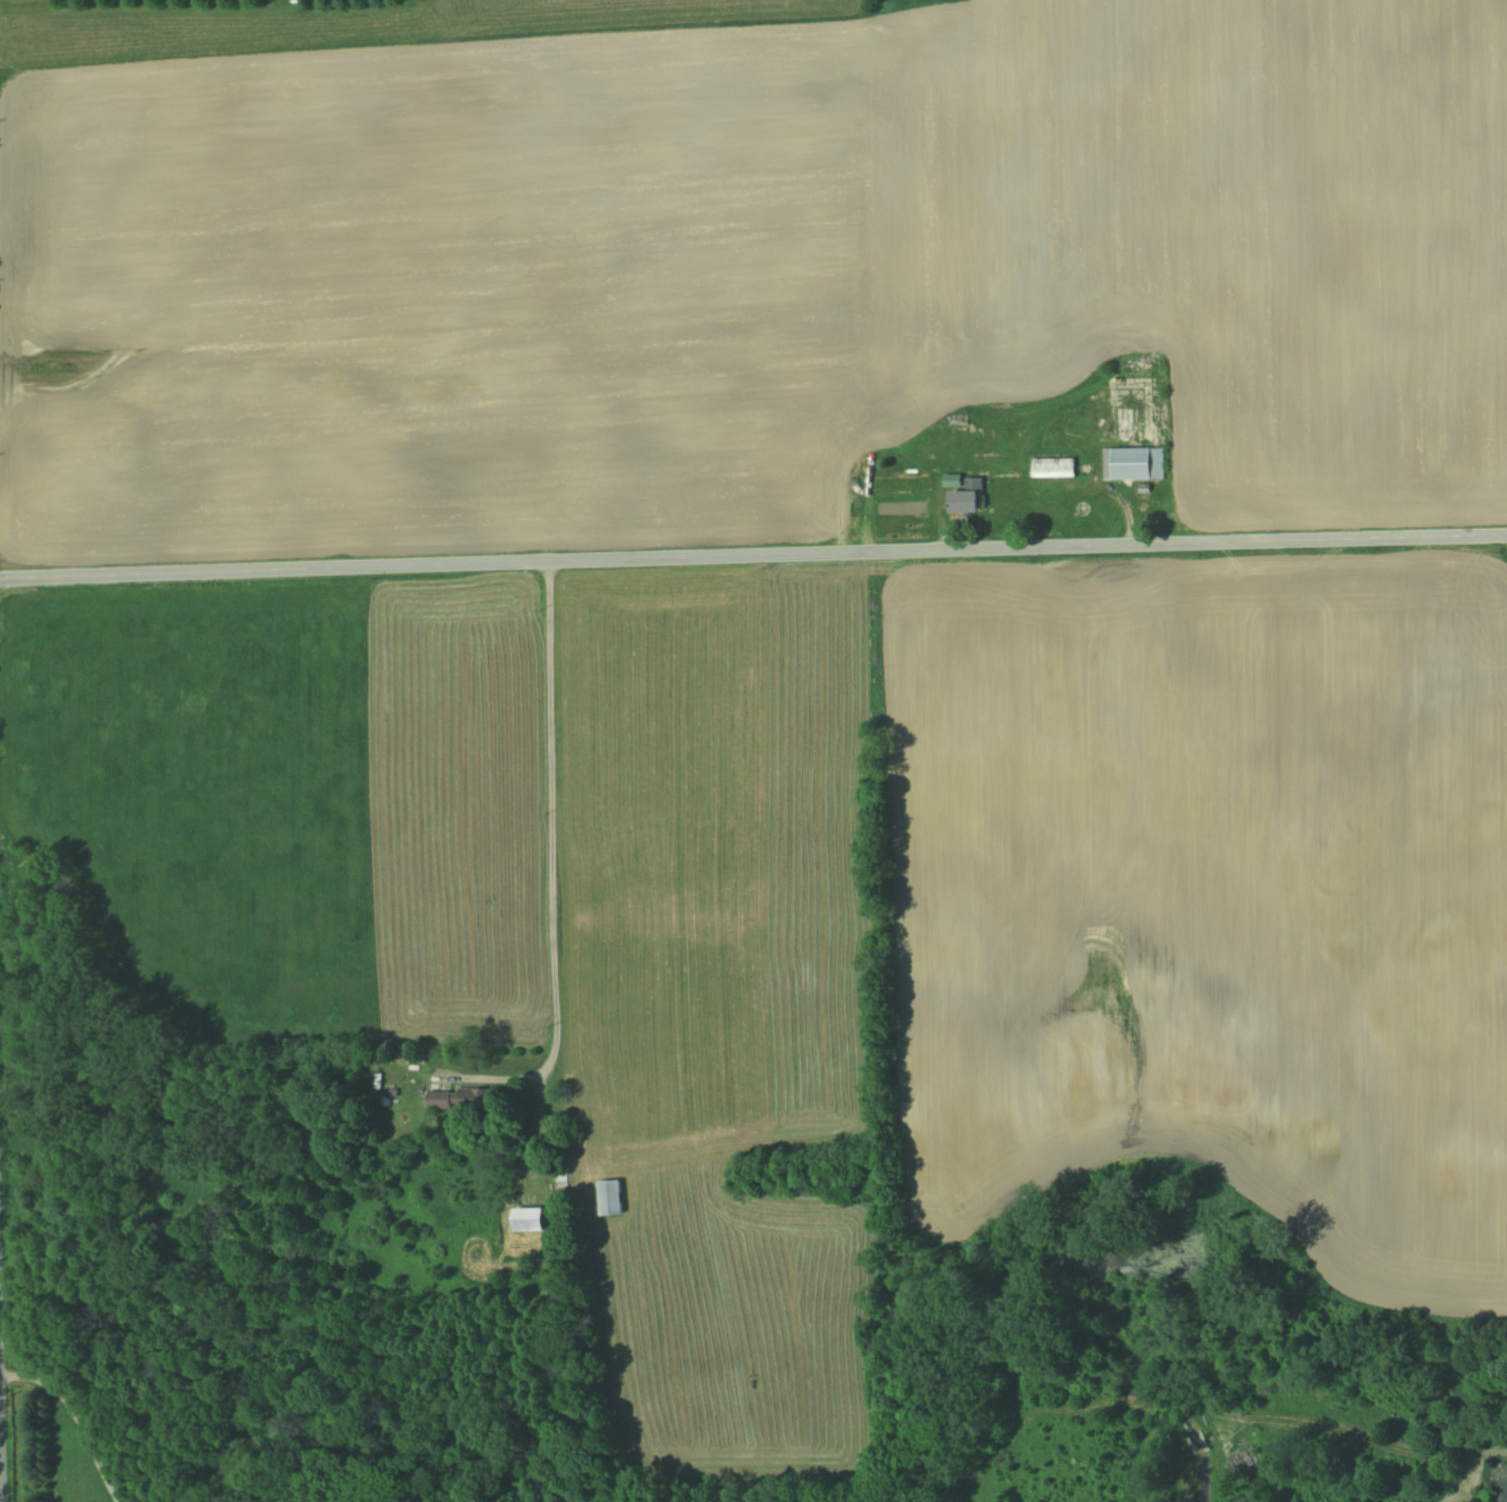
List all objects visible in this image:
building: (1133, 464)
building: (1053, 468)
building: (969, 498)
road: (753, 556)
building: (450, 1099)
building: (610, 1197)
building: (530, 1219)
road: (76, 1417)
road: (0, 1483)

